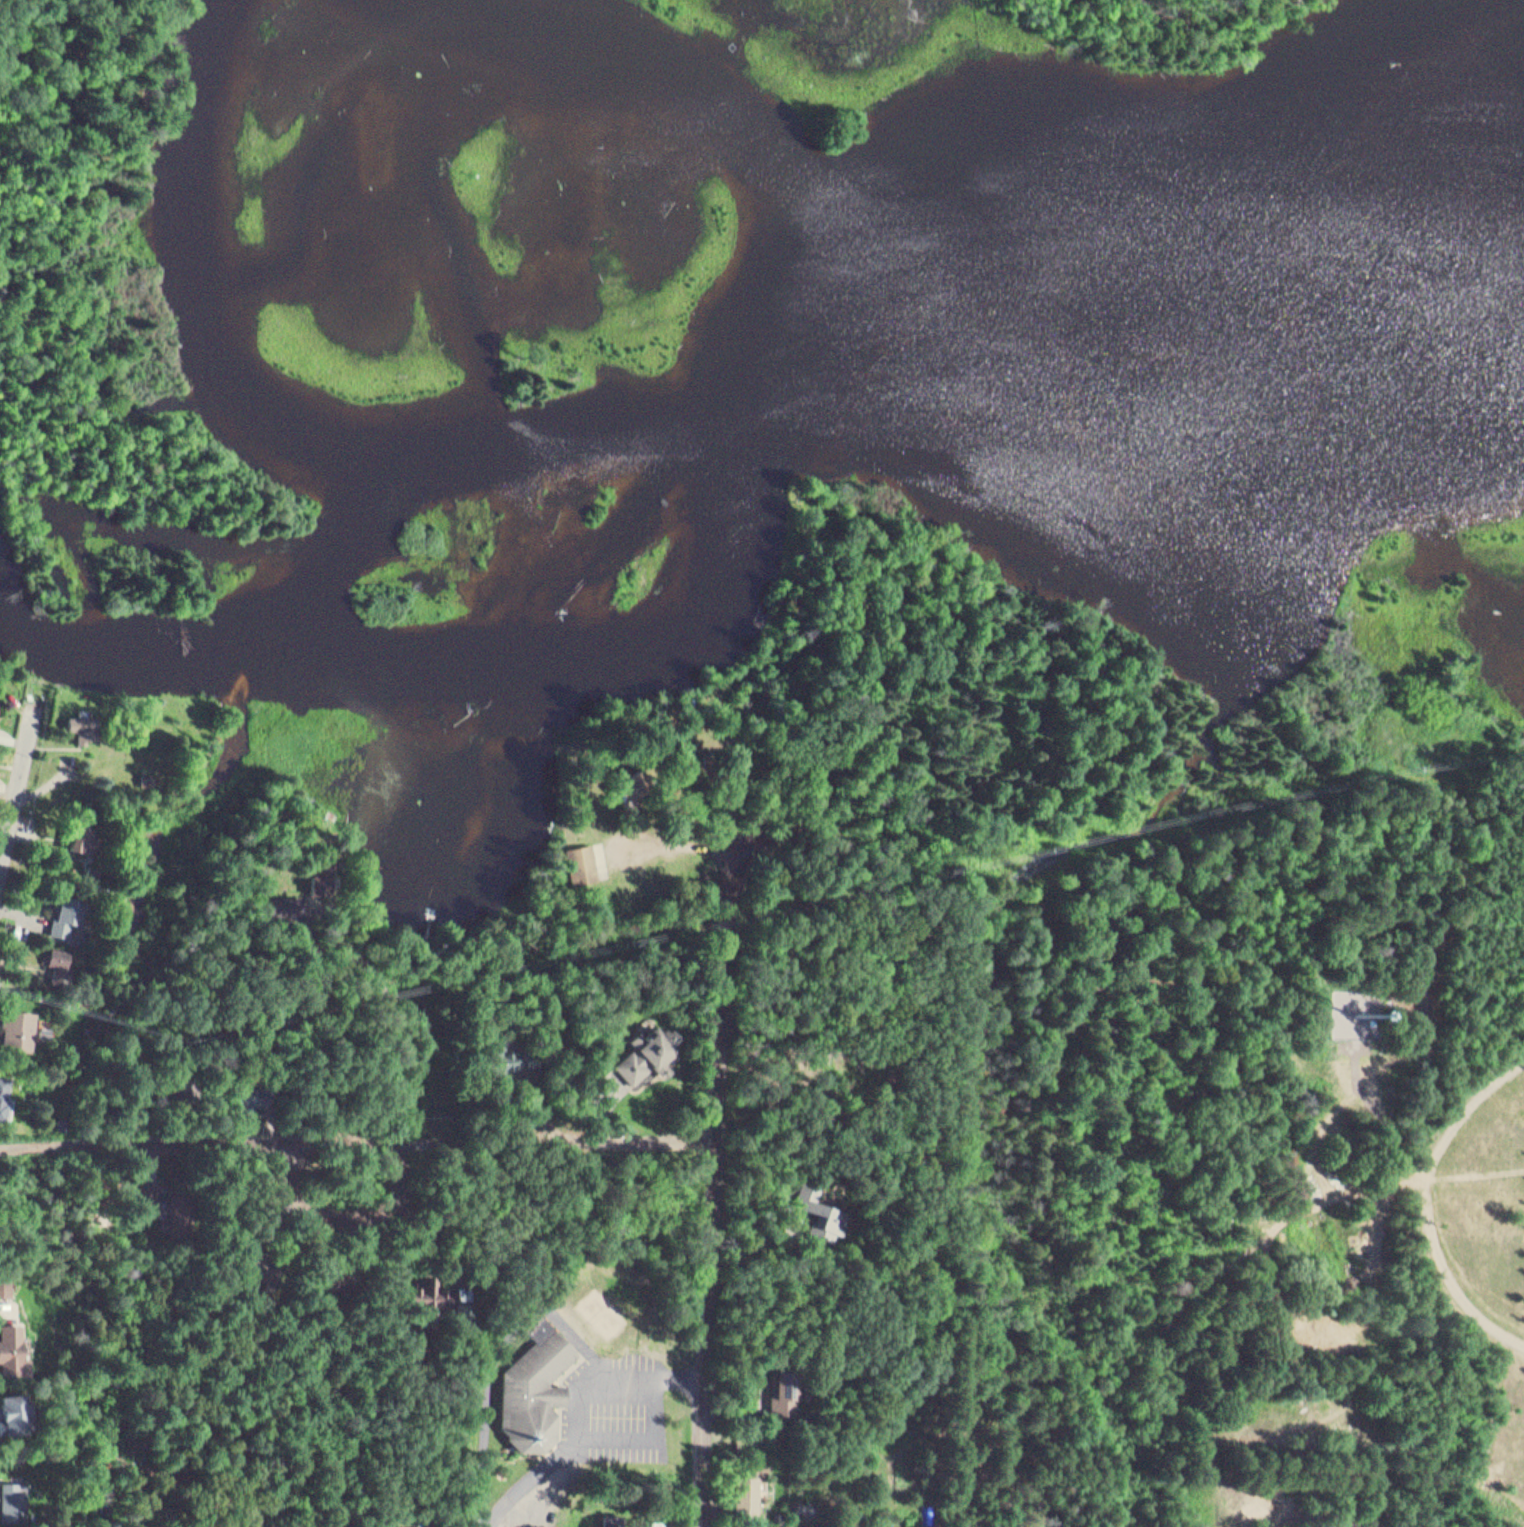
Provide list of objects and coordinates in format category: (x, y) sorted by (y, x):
road: (1165, 19)
road: (1173, 30)
road: (8, 159)
road: (53, 349)
building: (80, 720)
building: (145, 774)
building: (621, 780)
building: (146, 781)
road: (15, 784)
building: (79, 834)
building: (583, 864)
building: (94, 869)
building: (322, 871)
building: (287, 902)
building: (68, 911)
building: (55, 953)
building: (18, 1026)
building: (649, 1050)
building: (179, 1083)
building: (4, 1093)
building: (247, 1093)
building: (443, 1119)
road: (579, 1129)
building: (331, 1130)
road: (198, 1135)
park: (1260, 1189)
road: (1429, 1202)
building: (180, 1210)
building: (819, 1211)
road: (719, 1233)
building: (257, 1265)
building: (350, 1277)
building: (438, 1287)
building: (13, 1350)
building: (785, 1386)
building: (532, 1391)
building: (14, 1412)
building: (748, 1491)
building: (16, 1500)
building: (616, 1521)
building: (416, 1526)

